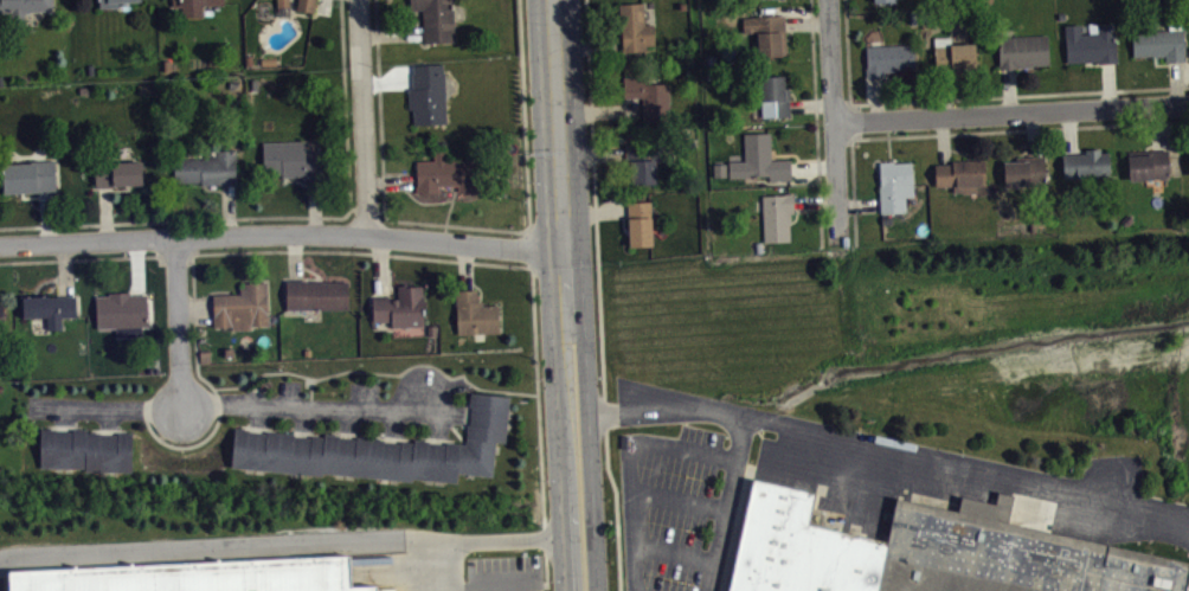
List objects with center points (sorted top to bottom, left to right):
building: (883, 0)
building: (775, 1)
building: (110, 2)
building: (283, 2)
building: (307, 5)
building: (193, 6)
building: (24, 7)
building: (437, 18)
building: (635, 27)
building: (767, 33)
building: (1091, 43)
building: (1159, 43)
building: (1022, 50)
road: (848, 51)
building: (955, 53)
building: (889, 58)
building: (429, 92)
road: (1020, 94)
building: (649, 96)
building: (775, 96)
road: (1011, 111)
road: (362, 117)
road: (834, 118)
road: (851, 121)
road: (816, 122)
road: (554, 126)
road: (968, 131)
building: (291, 159)
building: (759, 159)
building: (643, 161)
building: (1086, 162)
building: (1148, 163)
building: (207, 167)
building: (1026, 171)
building: (118, 172)
building: (445, 172)
building: (960, 174)
building: (28, 175)
building: (895, 185)
road: (367, 208)
road: (281, 216)
building: (777, 216)
building: (640, 221)
road: (461, 224)
road: (279, 232)
road: (527, 245)
road: (355, 250)
road: (185, 253)
road: (88, 257)
building: (316, 293)
road: (599, 296)
building: (243, 304)
building: (400, 306)
building: (50, 307)
building: (1, 309)
building: (122, 311)
building: (475, 313)
building: (4, 319)
road: (178, 321)
road: (243, 402)
road: (589, 419)
road: (555, 420)
building: (85, 448)
building: (380, 448)
road: (889, 454)
road: (632, 464)
road: (730, 503)
parking lot: (674, 507)
road: (279, 542)
building: (931, 551)
road: (546, 561)
road: (422, 566)
building: (194, 574)
parking lot: (2, 583)
building: (379, 590)

